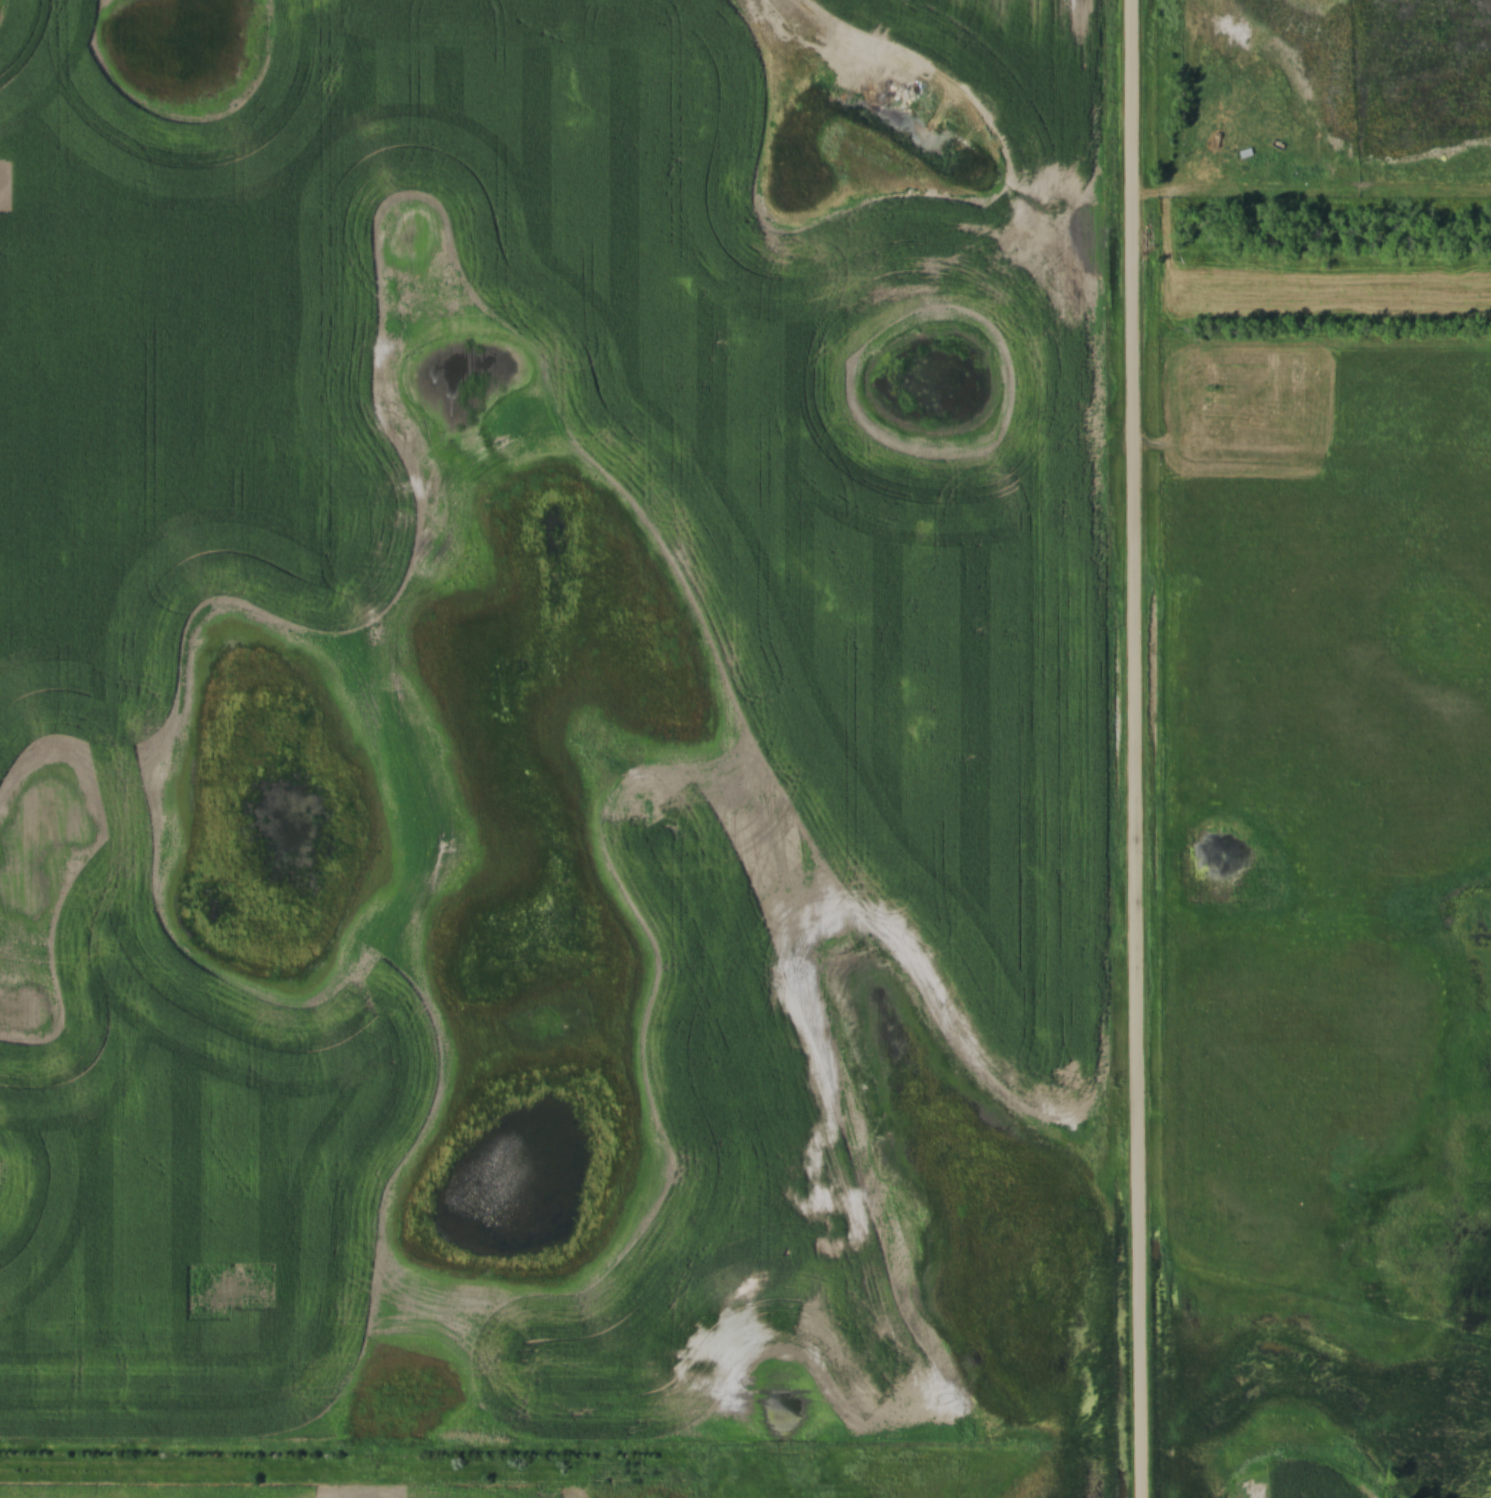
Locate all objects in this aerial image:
road: (1134, 748)

